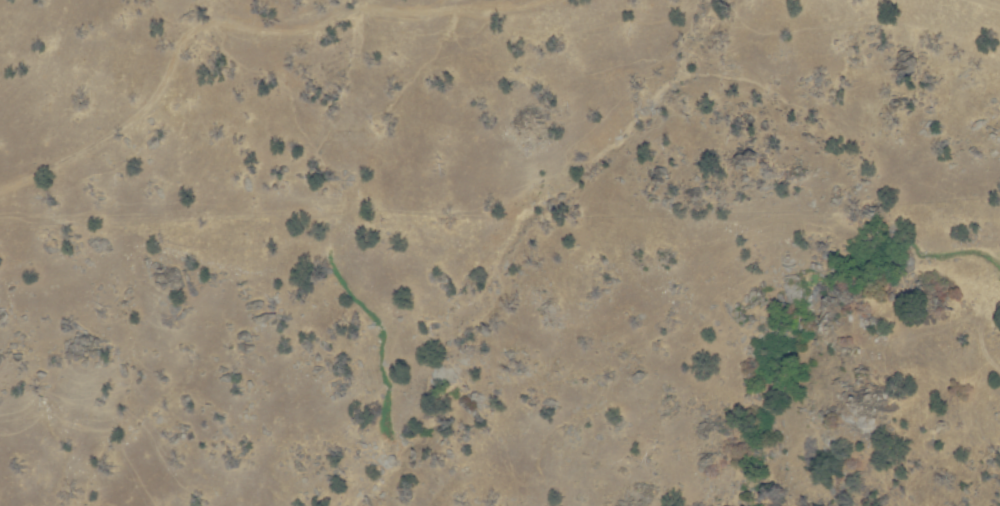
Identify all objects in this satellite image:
road: (994, 1)
road: (238, 33)

